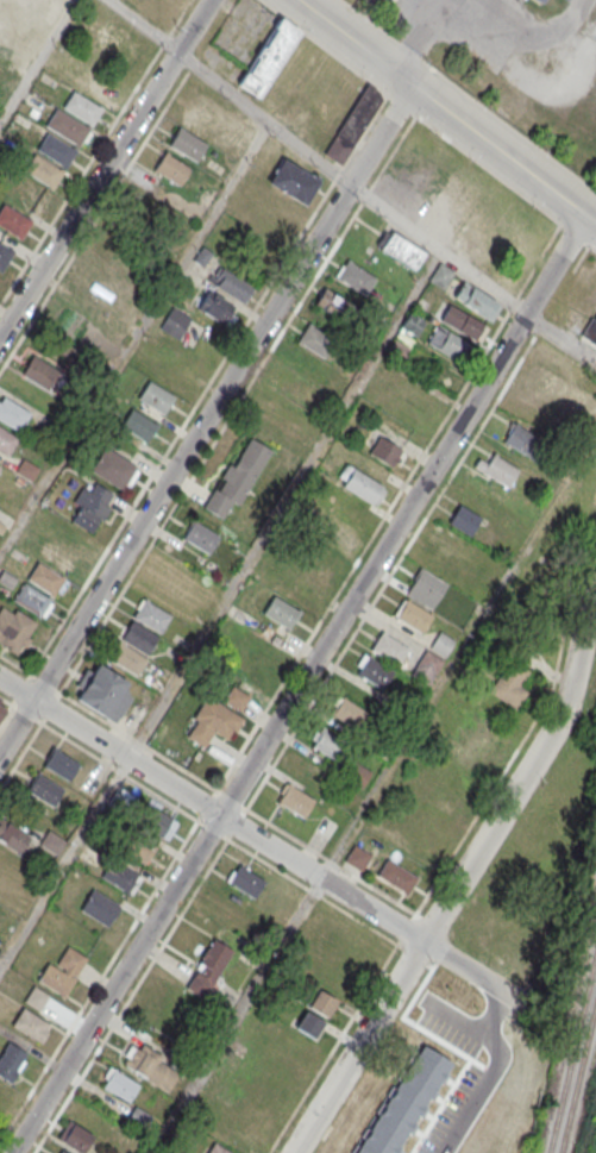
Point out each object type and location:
building: (544, 0)
building: (570, 0)
building: (540, 1)
building: (121, 43)
building: (266, 58)
building: (345, 77)
building: (99, 90)
road: (230, 92)
building: (81, 108)
road: (447, 111)
building: (214, 121)
building: (352, 124)
road: (428, 124)
building: (65, 127)
building: (187, 143)
building: (55, 150)
building: (171, 168)
road: (105, 169)
building: (42, 171)
building: (293, 181)
road: (395, 217)
building: (12, 221)
building: (402, 250)
building: (4, 256)
building: (440, 275)
building: (356, 277)
building: (231, 284)
building: (476, 300)
building: (333, 305)
building: (215, 307)
building: (175, 322)
building: (463, 322)
building: (590, 330)
road: (562, 333)
building: (404, 337)
building: (315, 340)
building: (446, 341)
building: (559, 362)
building: (39, 372)
building: (544, 381)
building: (155, 396)
building: (12, 414)
road: (206, 420)
building: (138, 425)
building: (6, 440)
building: (523, 441)
building: (384, 451)
road: (312, 457)
building: (0, 468)
building: (114, 468)
building: (500, 470)
building: (238, 477)
building: (360, 484)
building: (92, 506)
building: (465, 520)
building: (339, 531)
building: (199, 538)
building: (445, 539)
building: (57, 556)
building: (469, 574)
building: (7, 578)
building: (45, 578)
building: (428, 584)
building: (31, 599)
building: (281, 612)
building: (151, 614)
building: (413, 615)
building: (14, 629)
building: (138, 637)
building: (390, 648)
building: (128, 659)
building: (427, 666)
building: (375, 671)
road: (299, 684)
building: (509, 684)
building: (102, 691)
building: (234, 696)
building: (1, 709)
building: (347, 713)
building: (213, 721)
road: (36, 731)
building: (328, 745)
building: (478, 746)
building: (59, 764)
building: (358, 775)
road: (162, 777)
building: (44, 790)
road: (215, 790)
building: (295, 800)
road: (365, 807)
building: (156, 821)
building: (13, 836)
building: (357, 857)
road: (64, 861)
building: (119, 876)
building: (396, 876)
road: (463, 876)
building: (245, 881)
building: (100, 907)
road: (426, 945)
road: (385, 963)
building: (208, 969)
building: (62, 971)
road: (99, 979)
road: (130, 996)
building: (321, 1002)
road: (237, 1016)
building: (29, 1023)
building: (309, 1023)
building: (463, 1032)
road: (487, 1051)
building: (10, 1060)
railway: (575, 1060)
building: (150, 1067)
railway: (579, 1083)
building: (120, 1085)
building: (416, 1096)
building: (400, 1103)
building: (75, 1136)
building: (217, 1148)
building: (65, 1152)

